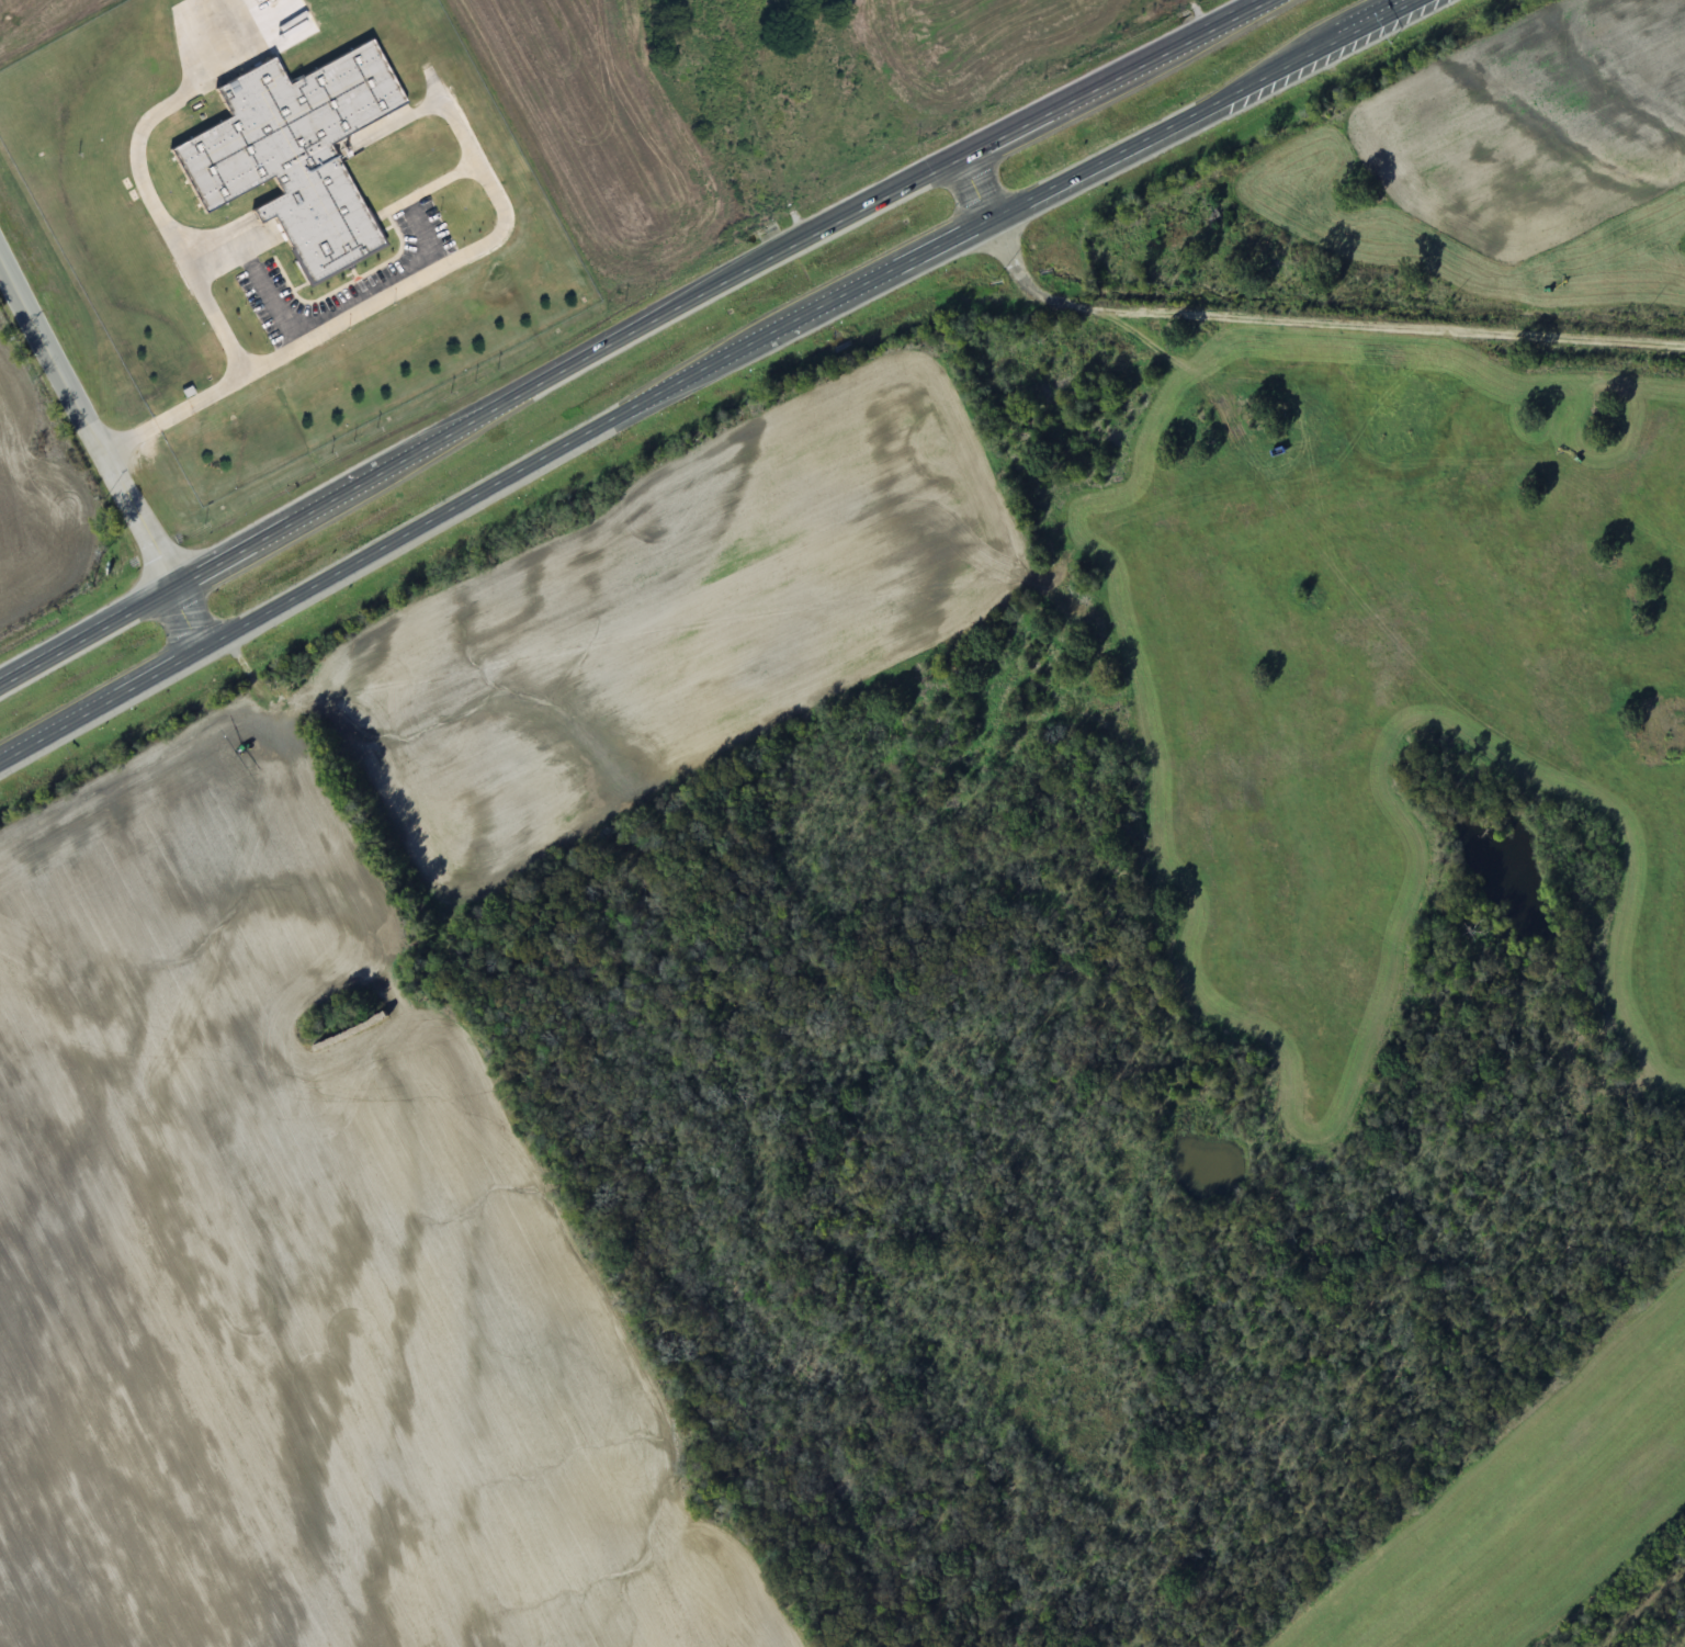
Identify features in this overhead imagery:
building: (297, 151)
road: (979, 182)
road: (627, 332)
road: (701, 368)
road: (101, 454)
railway: (1636, 1603)

